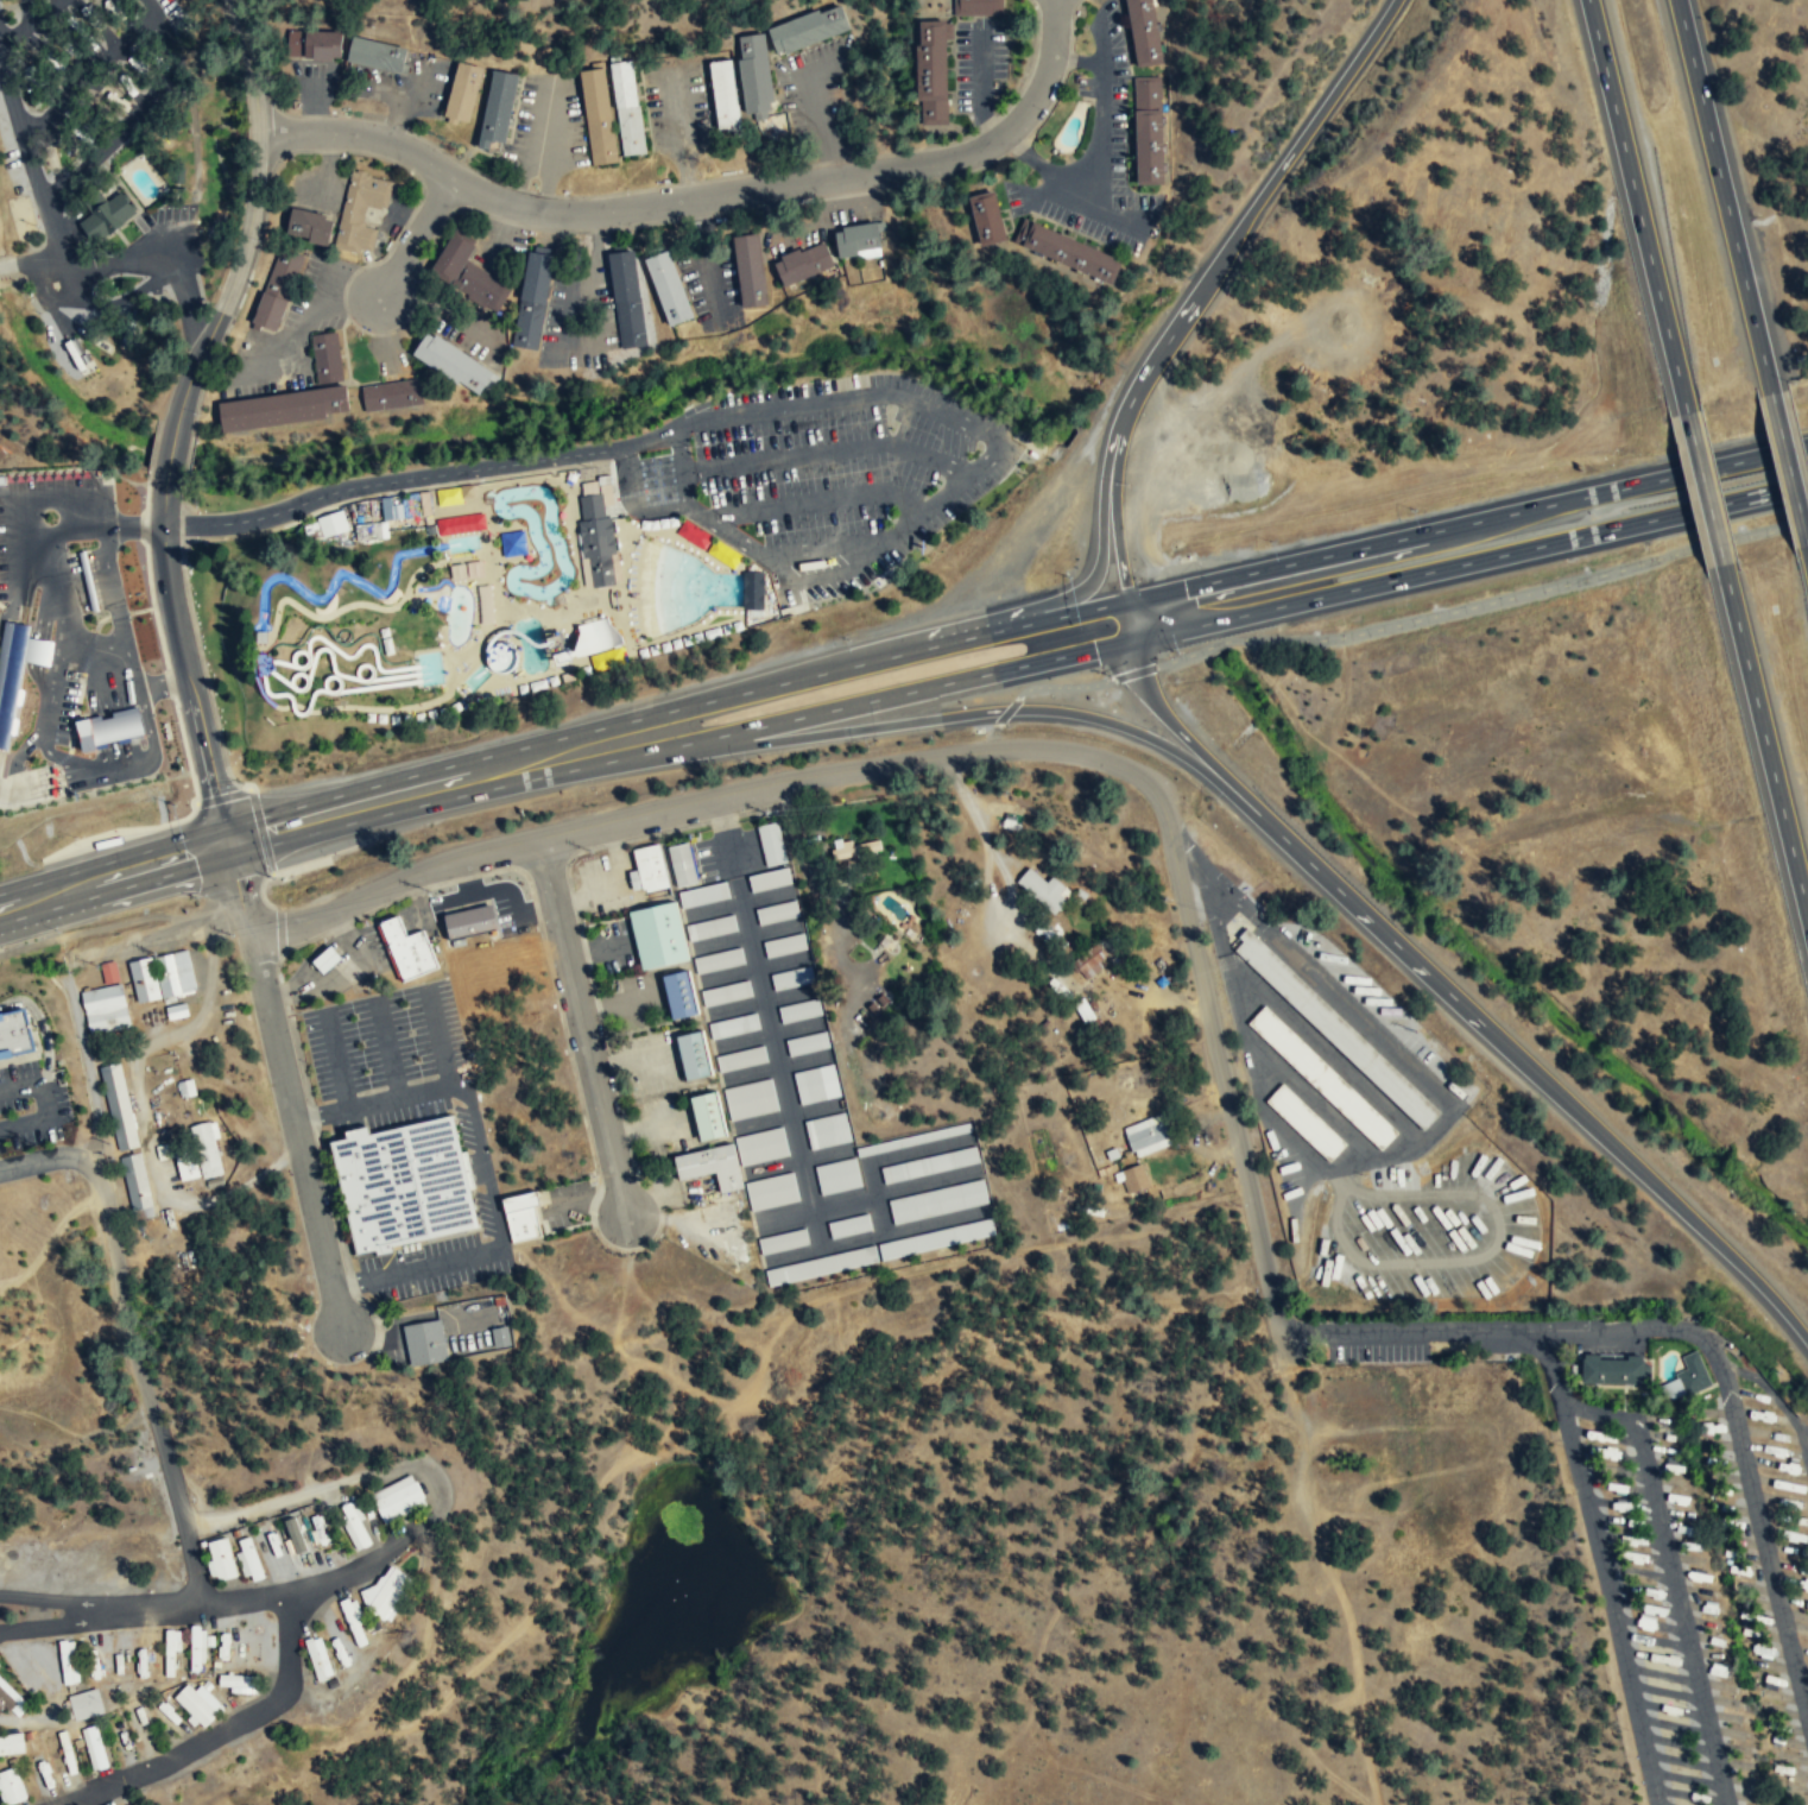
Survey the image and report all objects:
road: (148, 6)
building: (978, 8)
road: (27, 24)
building: (808, 30)
building: (1144, 32)
building: (312, 44)
road: (169, 45)
building: (373, 55)
road: (1079, 61)
building: (931, 72)
building: (756, 76)
building: (460, 93)
building: (725, 96)
road: (1101, 107)
building: (627, 108)
building: (495, 109)
building: (598, 116)
building: (1148, 130)
road: (1023, 152)
road: (1725, 196)
road: (702, 197)
road: (1637, 206)
building: (361, 212)
road: (48, 213)
road: (252, 216)
building: (106, 217)
building: (987, 220)
building: (310, 227)
road: (187, 239)
road: (412, 240)
building: (855, 241)
building: (1067, 252)
road: (31, 259)
building: (796, 269)
building: (751, 270)
building: (467, 272)
building: (278, 288)
building: (669, 288)
road: (185, 296)
road: (120, 298)
building: (627, 298)
building: (532, 299)
road: (1174, 334)
building: (325, 358)
building: (454, 364)
building: (391, 396)
road: (914, 403)
building: (283, 408)
road: (827, 450)
road: (170, 452)
road: (1790, 469)
parking lot: (818, 474)
road: (418, 478)
road: (545, 478)
building: (1, 479)
road: (1705, 488)
road: (381, 494)
road: (488, 494)
building: (450, 497)
road: (33, 500)
road: (816, 501)
road: (632, 504)
road: (696, 511)
building: (459, 524)
road: (1467, 524)
building: (327, 526)
building: (371, 531)
building: (693, 535)
road: (1118, 536)
building: (596, 538)
road: (486, 542)
water park: (589, 547)
road: (827, 551)
building: (722, 554)
road: (491, 562)
road: (1469, 563)
road: (84, 567)
road: (86, 578)
road: (29, 579)
building: (88, 581)
road: (89, 587)
road: (412, 589)
building: (752, 591)
road: (55, 598)
road: (90, 598)
road: (560, 599)
road: (70, 604)
road: (1483, 605)
road: (344, 606)
road: (93, 607)
road: (139, 610)
road: (540, 614)
road: (586, 614)
road: (118, 616)
road: (99, 621)
road: (1130, 623)
road: (565, 630)
building: (593, 637)
road: (257, 640)
road: (470, 640)
road: (39, 644)
road: (89, 652)
road: (260, 659)
road: (264, 665)
road: (263, 669)
road: (187, 670)
road: (260, 671)
road: (1134, 671)
building: (11, 677)
road: (52, 679)
road: (445, 682)
road: (456, 684)
road: (255, 686)
road: (1063, 687)
parking lot: (64, 709)
road: (365, 709)
road: (675, 711)
road: (76, 712)
road: (1006, 712)
road: (974, 714)
road: (106, 717)
road: (118, 717)
road: (146, 720)
road: (95, 721)
building: (109, 730)
road: (1183, 736)
road: (990, 738)
road: (1765, 739)
road: (679, 745)
road: (17, 758)
road: (61, 758)
road: (62, 758)
road: (48, 766)
road: (42, 783)
road: (753, 788)
road: (20, 802)
road: (978, 823)
building: (769, 842)
building: (858, 848)
road: (112, 858)
building: (678, 863)
building: (645, 865)
building: (766, 878)
road: (115, 891)
building: (1041, 891)
building: (701, 894)
road: (233, 897)
road: (239, 898)
road: (264, 901)
road: (735, 901)
building: (775, 911)
building: (470, 922)
road: (105, 926)
building: (708, 926)
building: (391, 929)
road: (280, 930)
building: (653, 934)
road: (742, 934)
building: (783, 945)
building: (411, 955)
building: (716, 959)
road: (310, 960)
building: (327, 960)
building: (1089, 963)
parking lot: (341, 965)
road: (752, 968)
building: (110, 970)
road: (344, 973)
building: (175, 974)
building: (790, 977)
building: (143, 979)
building: (723, 992)
building: (675, 993)
road: (758, 999)
building: (107, 1006)
building: (797, 1010)
road: (583, 1024)
building: (733, 1025)
road: (42, 1028)
building: (1336, 1030)
road: (765, 1031)
building: (13, 1034)
road: (37, 1034)
road: (437, 1037)
parking lot: (384, 1039)
building: (804, 1042)
road: (387, 1049)
road: (30, 1054)
building: (688, 1054)
building: (741, 1059)
road: (337, 1060)
road: (775, 1066)
road: (1535, 1069)
building: (1322, 1079)
building: (815, 1084)
building: (748, 1099)
road: (786, 1103)
parking lot: (31, 1105)
building: (120, 1105)
road: (42, 1106)
building: (703, 1115)
road: (784, 1115)
road: (1229, 1117)
building: (1304, 1123)
building: (826, 1130)
road: (296, 1134)
building: (1148, 1140)
building: (760, 1147)
building: (207, 1150)
road: (880, 1157)
road: (796, 1160)
building: (928, 1165)
building: (187, 1166)
building: (707, 1166)
road: (485, 1172)
building: (835, 1175)
building: (1133, 1180)
building: (137, 1181)
building: (404, 1185)
building: (770, 1192)
road: (865, 1195)
building: (936, 1201)
building: (521, 1217)
building: (847, 1225)
parking lot: (1425, 1235)
building: (934, 1238)
road: (48, 1239)
building: (782, 1241)
road: (794, 1254)
road: (862, 1285)
road: (1502, 1334)
building: (501, 1338)
road: (131, 1340)
building: (424, 1343)
building: (1610, 1371)
building: (1686, 1378)
road: (1772, 1395)
road: (1598, 1412)
road: (728, 1488)
building: (398, 1498)
building: (354, 1526)
building: (318, 1532)
road: (1763, 1534)
building: (295, 1535)
building: (297, 1545)
building: (220, 1560)
building: (249, 1560)
road: (1601, 1570)
building: (386, 1597)
road: (222, 1603)
road: (1681, 1612)
building: (354, 1623)
road: (750, 1646)
building: (197, 1651)
building: (171, 1653)
building: (318, 1658)
building: (119, 1660)
building: (68, 1662)
building: (26, 1677)
building: (238, 1684)
road: (447, 1694)
building: (11, 1699)
building: (84, 1704)
building: (197, 1705)
road: (221, 1734)
building: (11, 1743)
building: (94, 1747)
building: (69, 1760)
building: (11, 1787)

